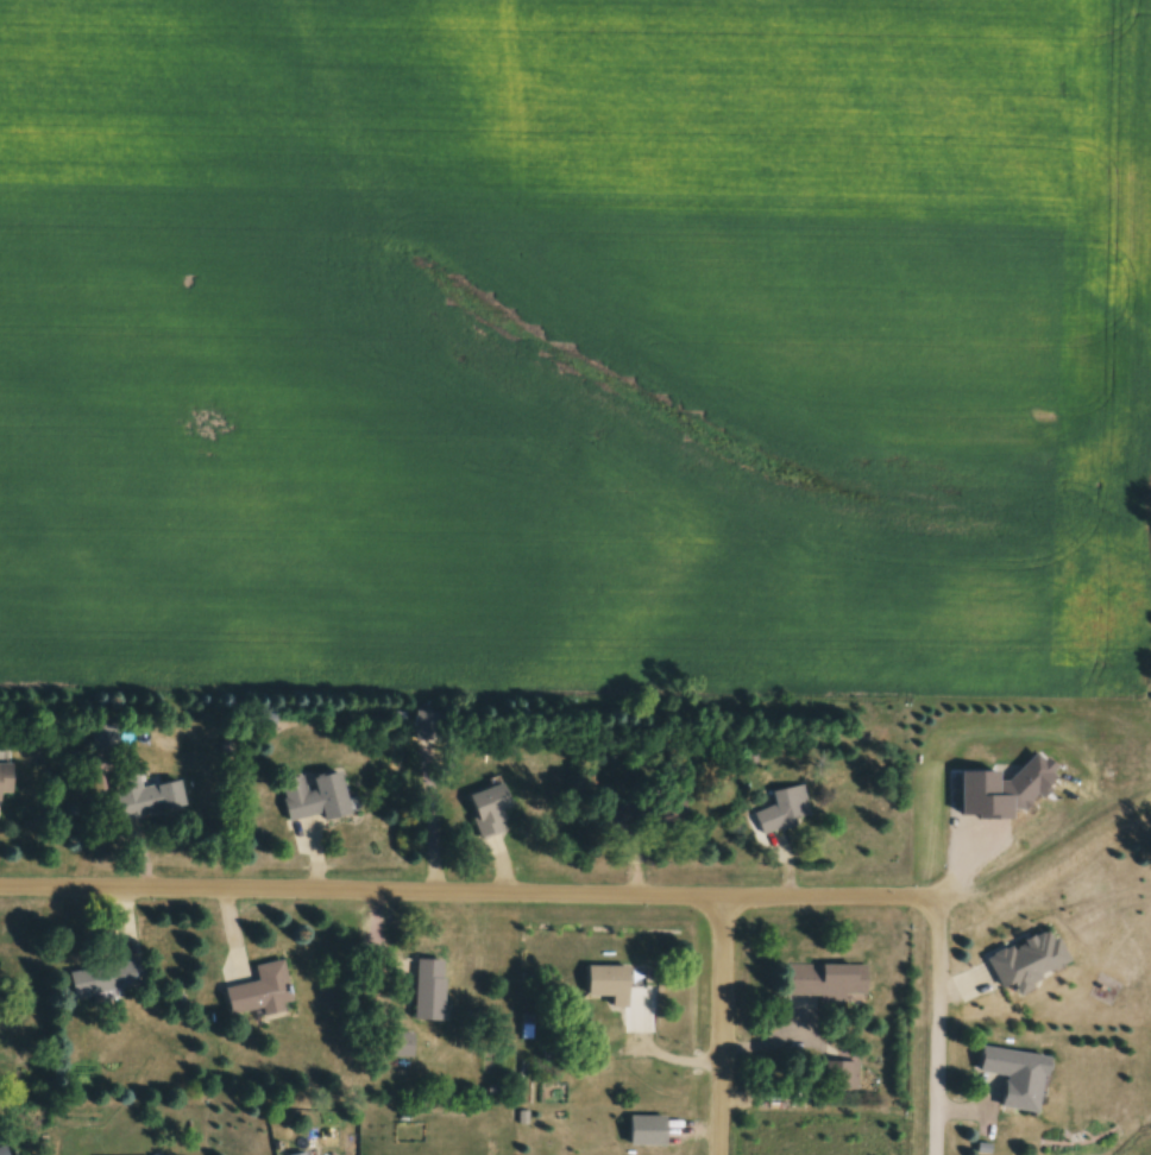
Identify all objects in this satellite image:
building: (264, 719)
building: (428, 725)
building: (6, 780)
building: (315, 797)
building: (151, 801)
building: (490, 810)
building: (786, 810)
building: (647, 816)
road: (1052, 823)
road: (364, 892)
road: (831, 897)
building: (102, 980)
building: (828, 983)
building: (610, 985)
building: (430, 991)
building: (260, 993)
road: (725, 1025)
road: (937, 1028)
building: (842, 1077)
building: (1018, 1078)
building: (4, 1150)

